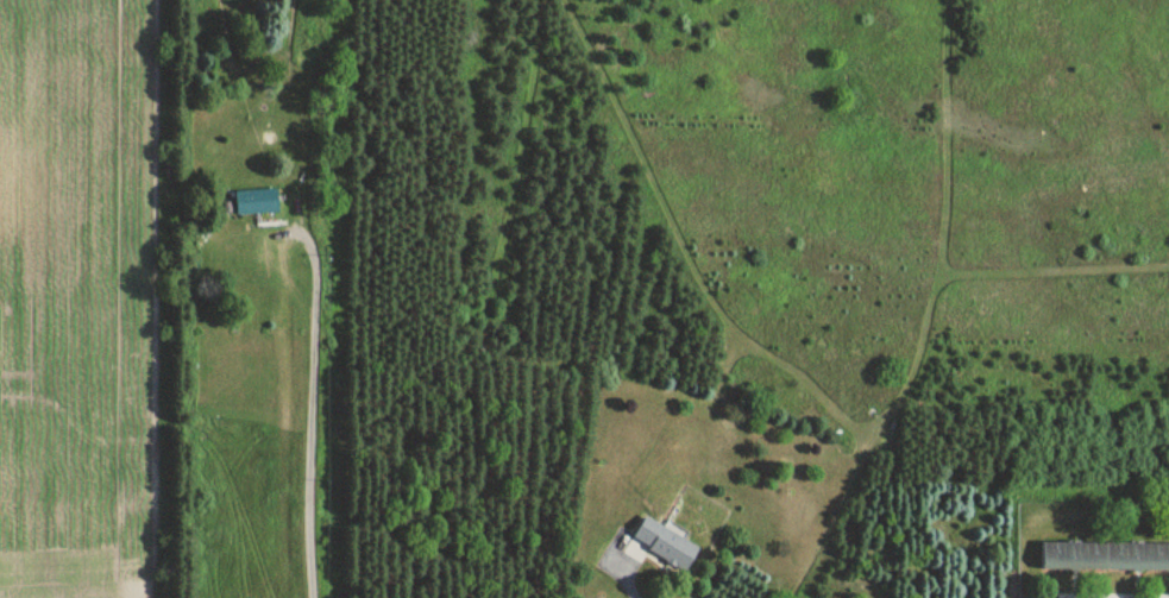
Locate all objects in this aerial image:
building: (256, 203)
road: (312, 407)
building: (660, 546)
building: (1104, 558)
road: (623, 581)

